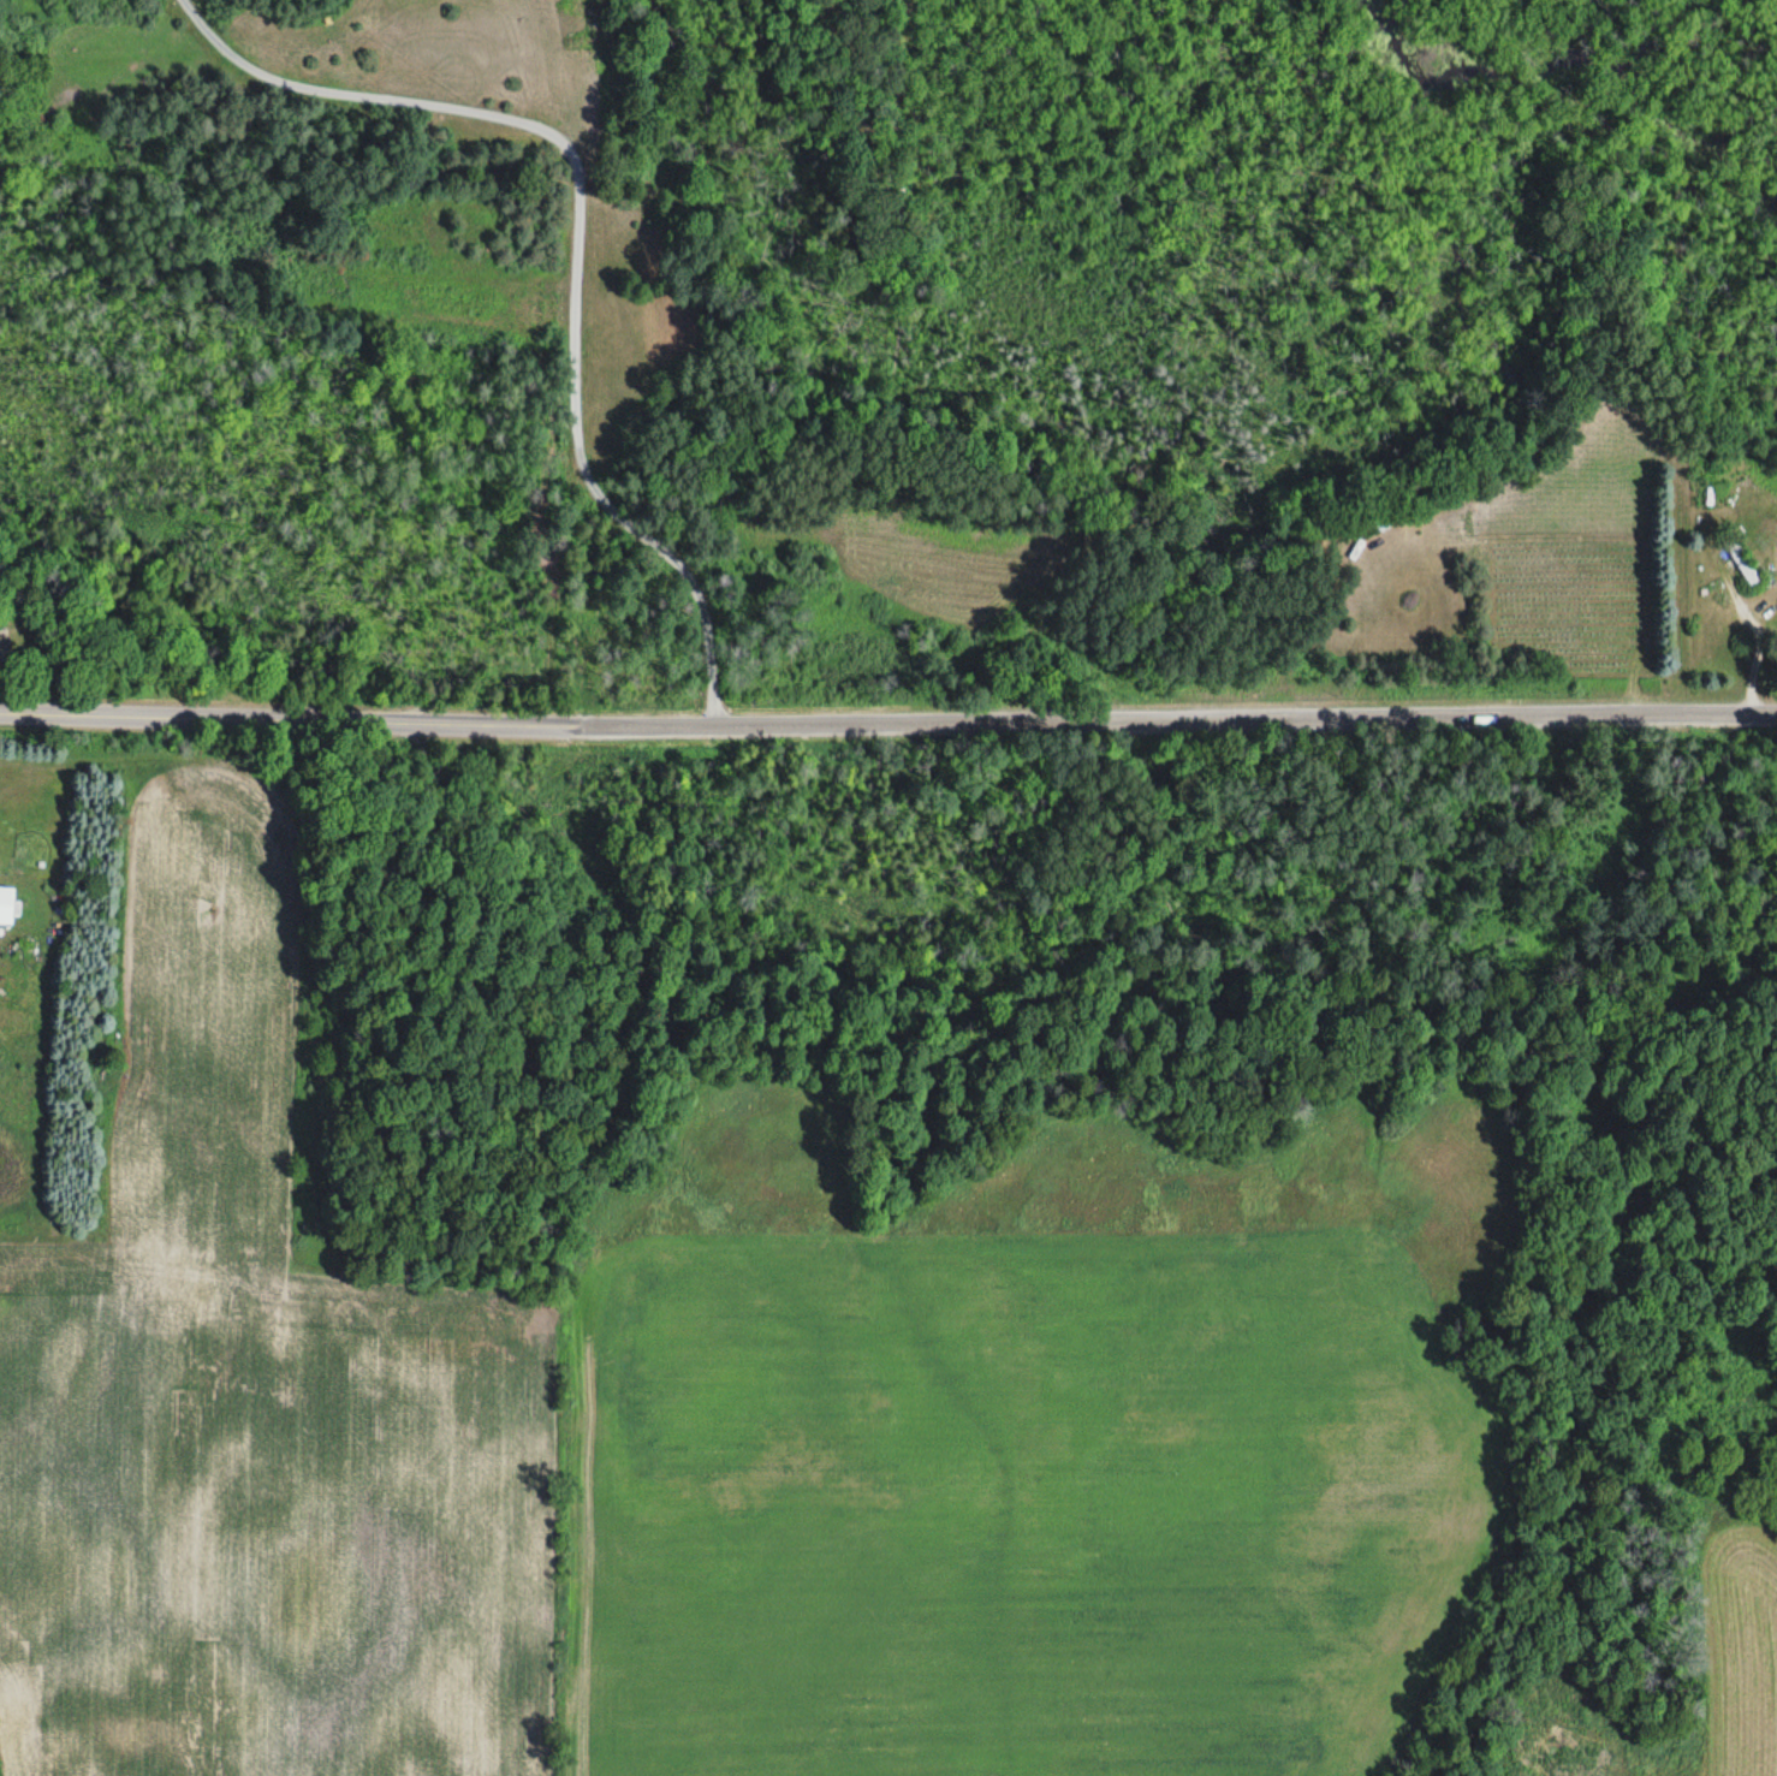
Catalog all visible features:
building: (1741, 560)
building: (4, 648)
road: (109, 714)
road: (998, 719)
building: (7, 905)

